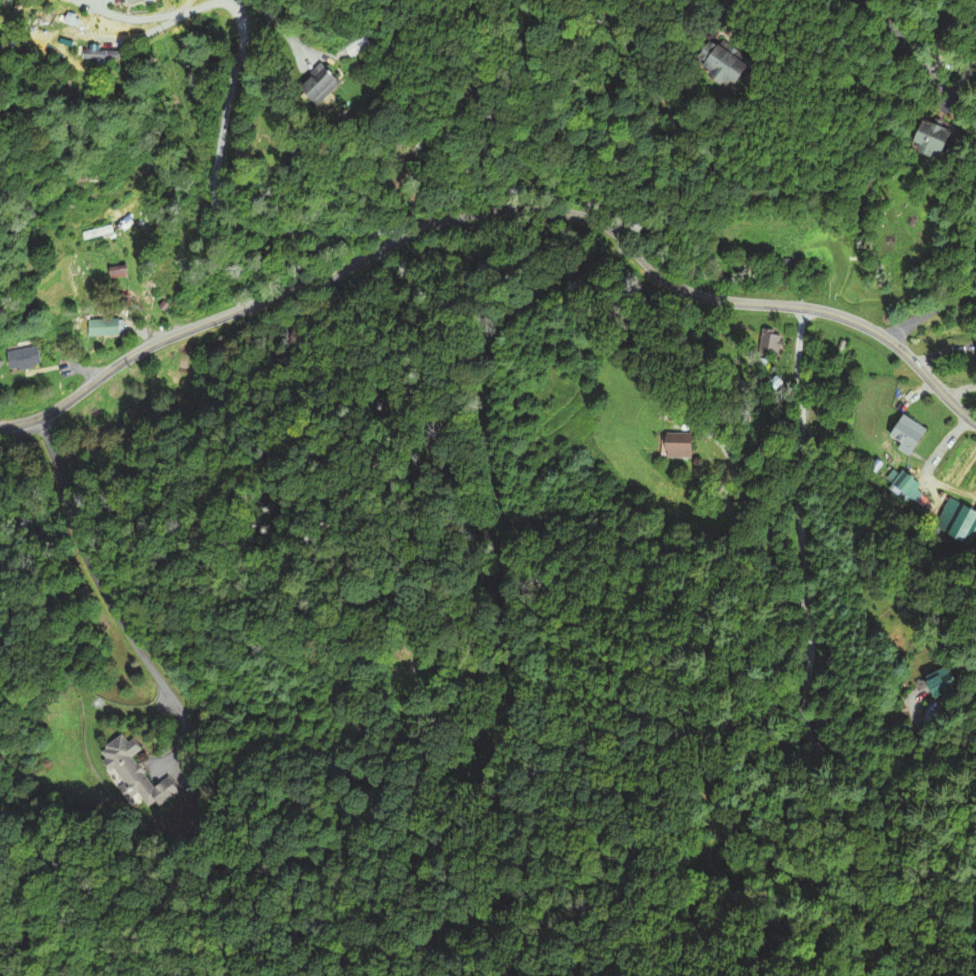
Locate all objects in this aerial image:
building: (353, 46)
building: (84, 50)
road: (916, 56)
building: (709, 61)
building: (313, 86)
building: (921, 137)
road: (215, 194)
road: (497, 210)
building: (98, 233)
building: (785, 266)
building: (115, 271)
road: (945, 303)
building: (102, 327)
building: (767, 343)
building: (21, 359)
road: (960, 389)
building: (904, 434)
building: (674, 450)
building: (956, 522)
road: (111, 607)
road: (811, 629)
building: (935, 687)
building: (131, 776)
road: (975, 891)

